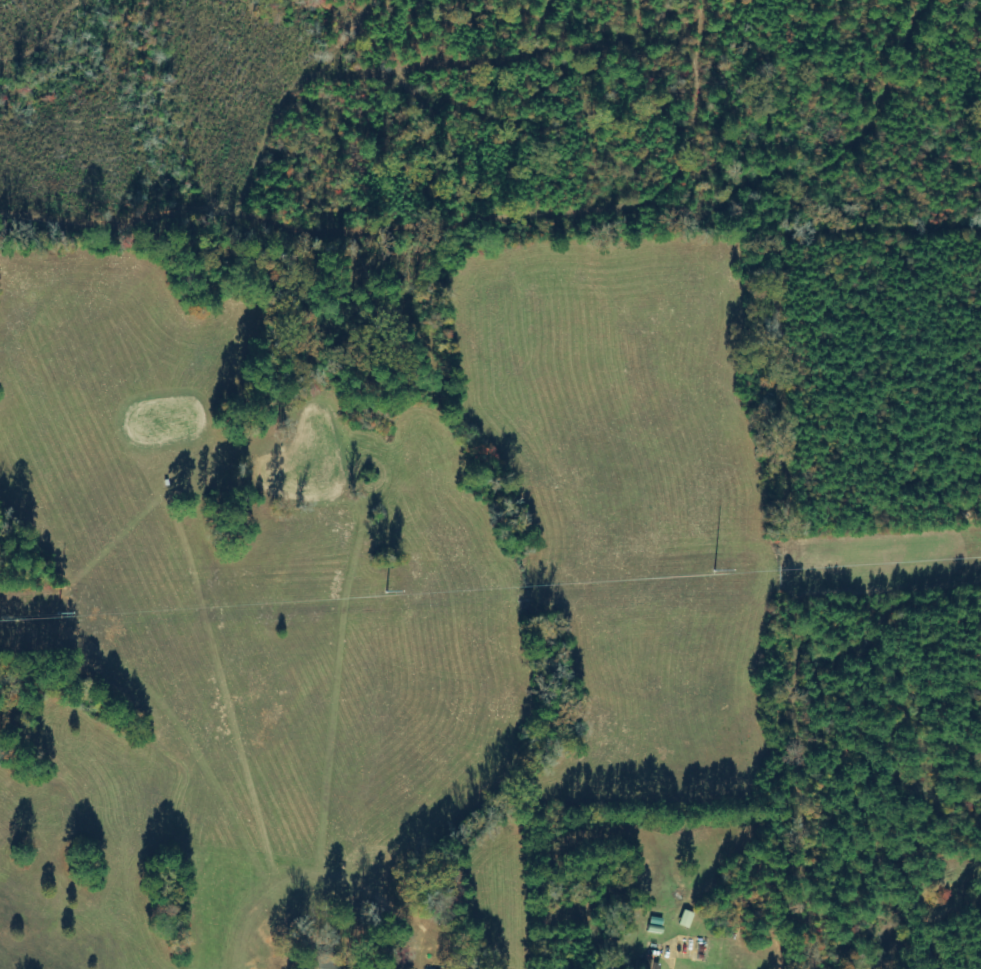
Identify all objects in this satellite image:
power tower: (835, 566)
power tower: (626, 580)
power tower: (385, 595)
power tower: (73, 616)
building: (686, 919)
road: (233, 949)
building: (651, 965)

